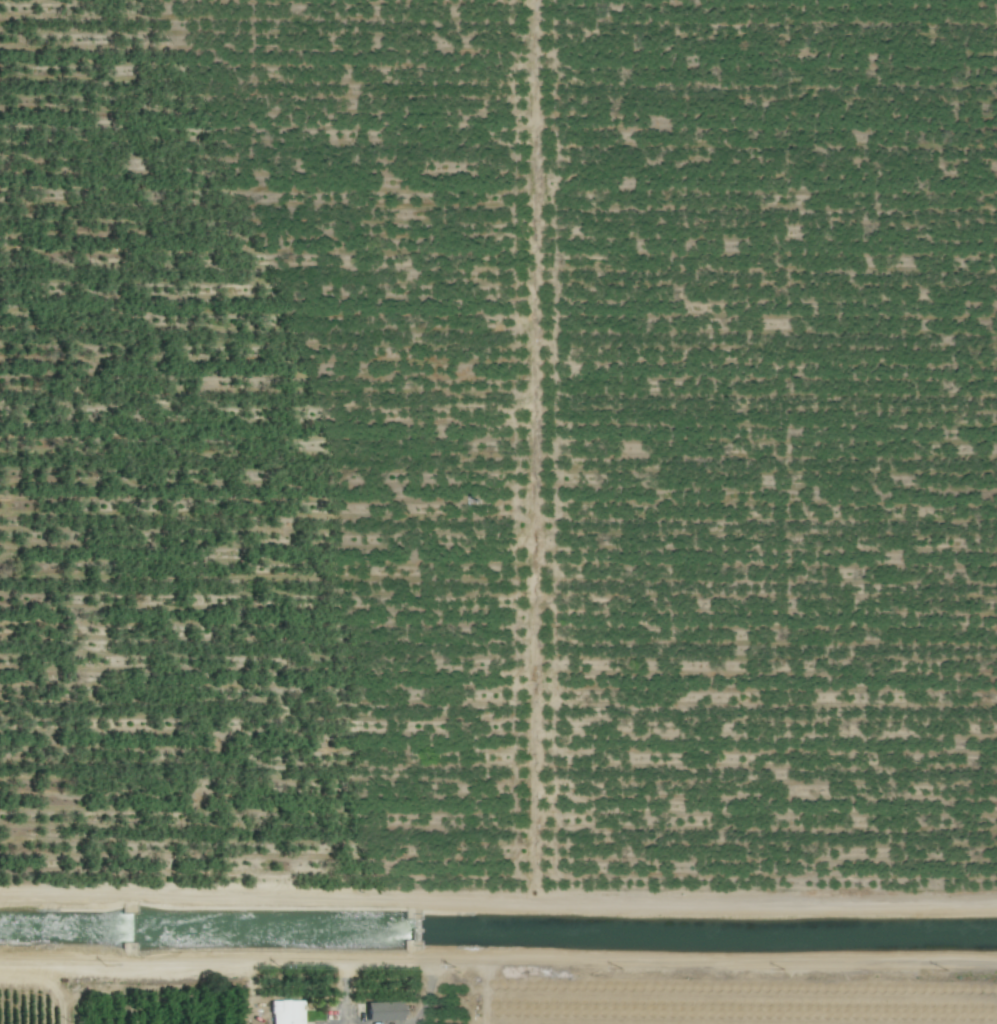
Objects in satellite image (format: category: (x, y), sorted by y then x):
road: (498, 908)
road: (498, 961)
road: (477, 992)
road: (345, 993)
road: (425, 996)
building: (384, 1011)
building: (287, 1012)

